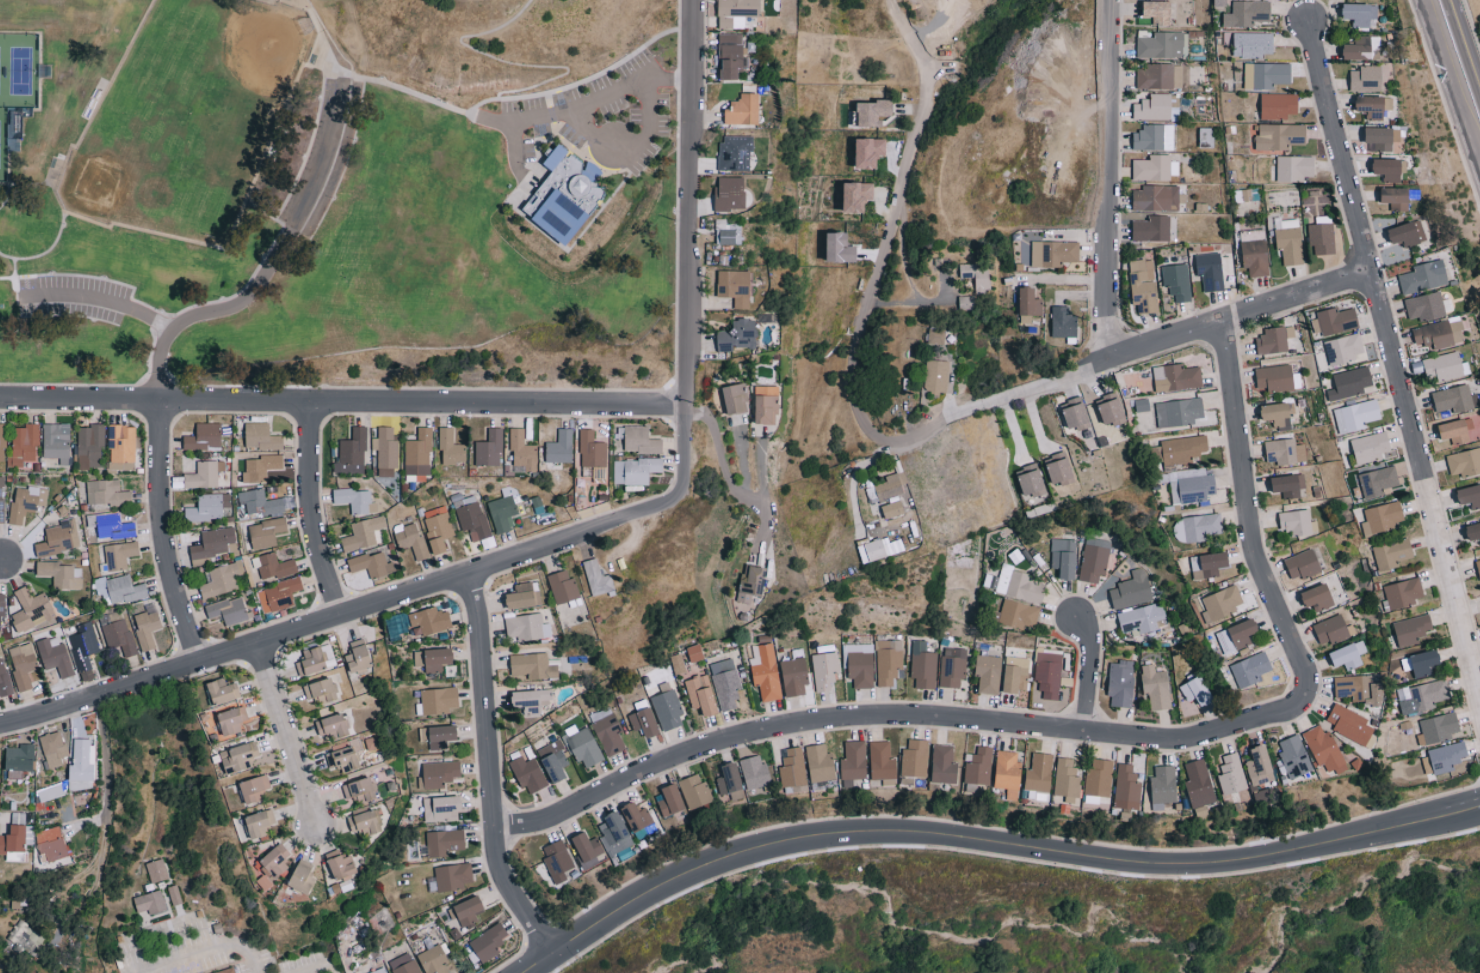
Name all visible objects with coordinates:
building: (1220, 5)
building: (737, 11)
building: (1159, 11)
building: (1247, 12)
building: (1360, 13)
road: (325, 36)
building: (1161, 44)
building: (1253, 44)
building: (1363, 48)
building: (731, 54)
road: (533, 66)
road: (1457, 66)
building: (1265, 74)
building: (1160, 76)
building: (1367, 78)
park: (16, 85)
road: (409, 92)
building: (1278, 105)
building: (1156, 106)
building: (1374, 106)
building: (744, 109)
building: (872, 112)
park: (190, 118)
road: (496, 122)
road: (517, 123)
road: (585, 125)
building: (1280, 136)
building: (1154, 137)
building: (1206, 137)
building: (1382, 137)
building: (870, 151)
building: (735, 152)
parking lot: (327, 158)
building: (1154, 167)
building: (1295, 168)
building: (1389, 169)
road: (1106, 176)
park: (337, 193)
building: (730, 193)
building: (858, 195)
building: (1155, 197)
building: (1396, 198)
park: (419, 221)
road: (891, 224)
building: (1151, 228)
building: (727, 232)
building: (1407, 233)
building: (1321, 238)
building: (841, 247)
road: (689, 251)
road: (901, 252)
building: (1254, 252)
building: (1053, 253)
road: (272, 265)
building: (1210, 270)
building: (977, 275)
building: (1424, 277)
road: (1068, 279)
building: (1177, 281)
building: (1143, 285)
building: (734, 287)
parking lot: (74, 299)
road: (106, 301)
road: (916, 302)
building: (966, 302)
building: (1029, 304)
building: (1425, 306)
building: (1334, 321)
building: (1064, 323)
building: (1439, 333)
building: (738, 335)
building: (1274, 340)
road: (1392, 343)
road: (1126, 344)
building: (1344, 349)
building: (1443, 366)
building: (936, 376)
building: (1176, 377)
building: (1275, 378)
building: (1350, 383)
building: (735, 398)
building: (1453, 398)
road: (343, 401)
building: (766, 404)
building: (1112, 409)
building: (1179, 412)
building: (1076, 414)
building: (1278, 415)
building: (1356, 415)
building: (1458, 431)
building: (204, 436)
building: (261, 437)
building: (640, 440)
building: (2, 441)
building: (56, 441)
building: (23, 445)
building: (90, 446)
building: (121, 446)
building: (450, 447)
building: (560, 447)
building: (1370, 447)
building: (489, 448)
building: (1184, 449)
building: (385, 451)
building: (522, 451)
building: (1285, 451)
building: (352, 453)
building: (593, 455)
building: (418, 456)
building: (1465, 462)
building: (259, 468)
building: (1060, 469)
building: (635, 470)
building: (206, 474)
road: (726, 474)
building: (1031, 480)
building: (1377, 481)
road: (855, 482)
building: (1191, 485)
building: (1289, 485)
building: (889, 487)
building: (107, 492)
building: (1469, 495)
building: (1, 499)
building: (354, 500)
building: (260, 502)
building: (23, 504)
building: (208, 507)
building: (893, 509)
road: (310, 510)
building: (502, 512)
building: (1382, 517)
building: (473, 520)
road: (1249, 522)
building: (1297, 523)
building: (110, 525)
building: (1196, 527)
building: (438, 528)
building: (1473, 531)
building: (266, 532)
road: (165, 533)
building: (363, 533)
building: (59, 538)
building: (410, 538)
building: (211, 544)
building: (877, 549)
building: (1393, 553)
building: (119, 554)
building: (1064, 557)
road: (2, 559)
building: (1093, 560)
building: (371, 564)
building: (1209, 564)
building: (1302, 564)
building: (275, 566)
building: (1478, 566)
building: (62, 574)
building: (597, 578)
building: (222, 579)
building: (752, 582)
building: (1018, 584)
building: (562, 586)
building: (119, 589)
building: (1131, 589)
building: (1403, 593)
building: (278, 595)
building: (522, 595)
building: (1320, 597)
building: (1221, 603)
building: (30, 609)
building: (229, 610)
building: (1, 613)
building: (1018, 614)
road: (338, 616)
building: (1139, 620)
building: (430, 621)
building: (401, 624)
building: (526, 626)
building: (146, 629)
building: (1332, 629)
building: (1411, 629)
building: (1237, 635)
building: (118, 636)
building: (83, 645)
building: (695, 653)
building: (329, 655)
building: (1348, 655)
building: (55, 656)
building: (360, 657)
building: (433, 659)
building: (888, 661)
building: (312, 662)
building: (1421, 662)
building: (22, 665)
building: (923, 665)
building: (533, 666)
building: (952, 666)
building: (861, 668)
road: (1088, 669)
building: (1250, 669)
building: (824, 670)
building: (765, 671)
building: (988, 673)
building: (1048, 673)
building: (794, 674)
building: (1016, 674)
building: (4, 679)
building: (725, 683)
building: (1120, 683)
building: (1156, 687)
building: (1360, 689)
building: (321, 690)
building: (223, 691)
building: (1196, 691)
building: (701, 694)
building: (1422, 696)
building: (531, 699)
building: (437, 701)
building: (667, 710)
road: (877, 715)
building: (232, 720)
building: (644, 722)
building: (1350, 724)
building: (333, 725)
building: (1438, 728)
building: (608, 733)
road: (290, 735)
building: (438, 736)
building: (373, 743)
building: (582, 745)
building: (53, 748)
building: (1323, 748)
building: (239, 757)
building: (1444, 757)
building: (1293, 758)
building: (83, 759)
building: (344, 759)
building: (19, 760)
building: (553, 761)
building: (914, 761)
building: (853, 762)
building: (882, 763)
building: (943, 764)
building: (820, 766)
building: (978, 768)
building: (1259, 768)
road: (488, 769)
building: (793, 771)
building: (756, 772)
building: (1008, 773)
building: (1038, 773)
building: (438, 774)
building: (528, 774)
building: (1230, 774)
building: (1098, 778)
building: (1066, 779)
building: (731, 782)
building: (1198, 783)
building: (80, 784)
building: (1163, 786)
building: (1126, 787)
building: (254, 788)
building: (360, 790)
building: (695, 792)
building: (670, 800)
building: (441, 808)
building: (637, 817)
building: (365, 822)
building: (259, 823)
building: (616, 836)
road: (986, 839)
building: (443, 841)
building: (13, 843)
building: (51, 843)
building: (587, 849)
road: (100, 854)
building: (276, 860)
building: (557, 861)
building: (342, 869)
building: (156, 870)
building: (453, 876)
building: (303, 877)
building: (174, 895)
building: (150, 902)
building: (466, 911)
road: (177, 921)
building: (488, 942)
road: (198, 951)
building: (433, 960)
building: (405, 964)
road: (316, 965)
building: (227, 971)

